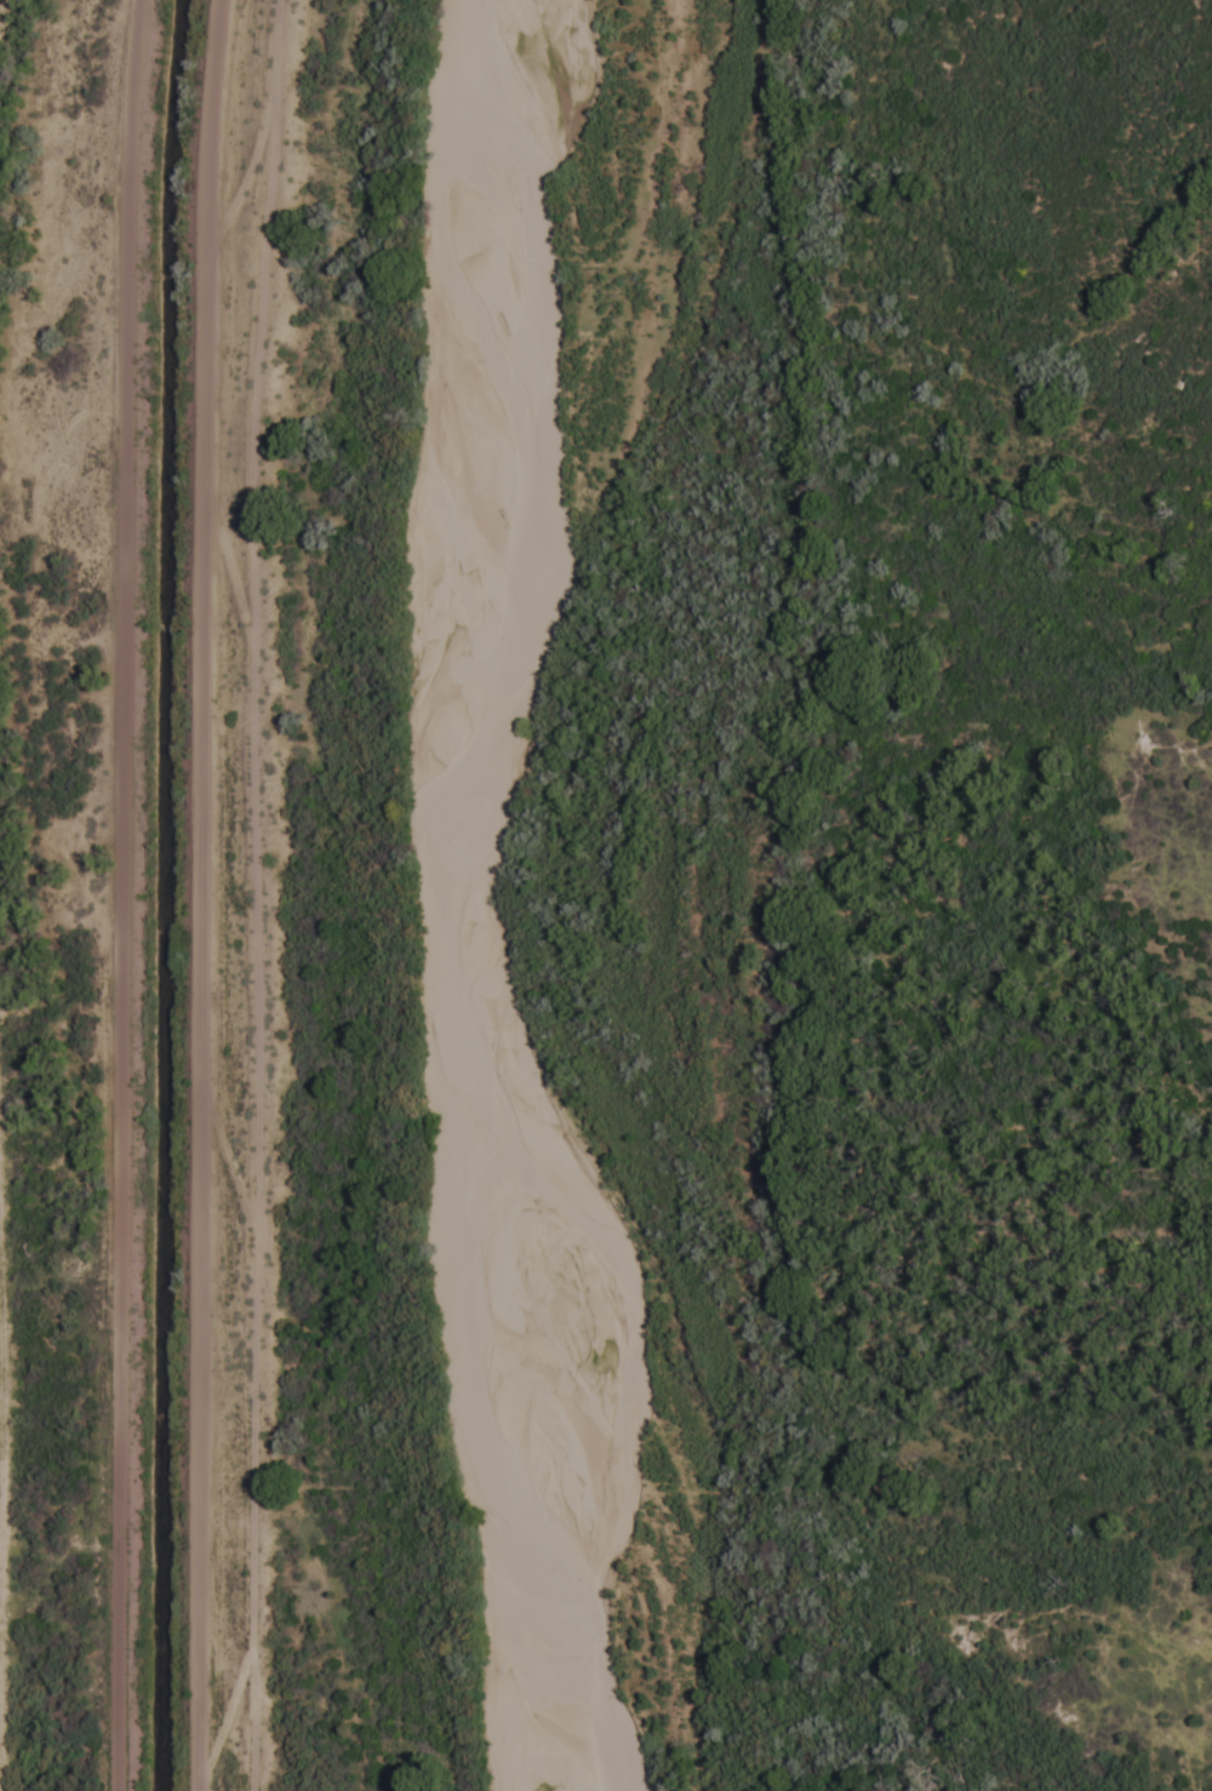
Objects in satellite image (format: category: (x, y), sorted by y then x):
road: (184, 893)
road: (113, 894)
river: (456, 898)

